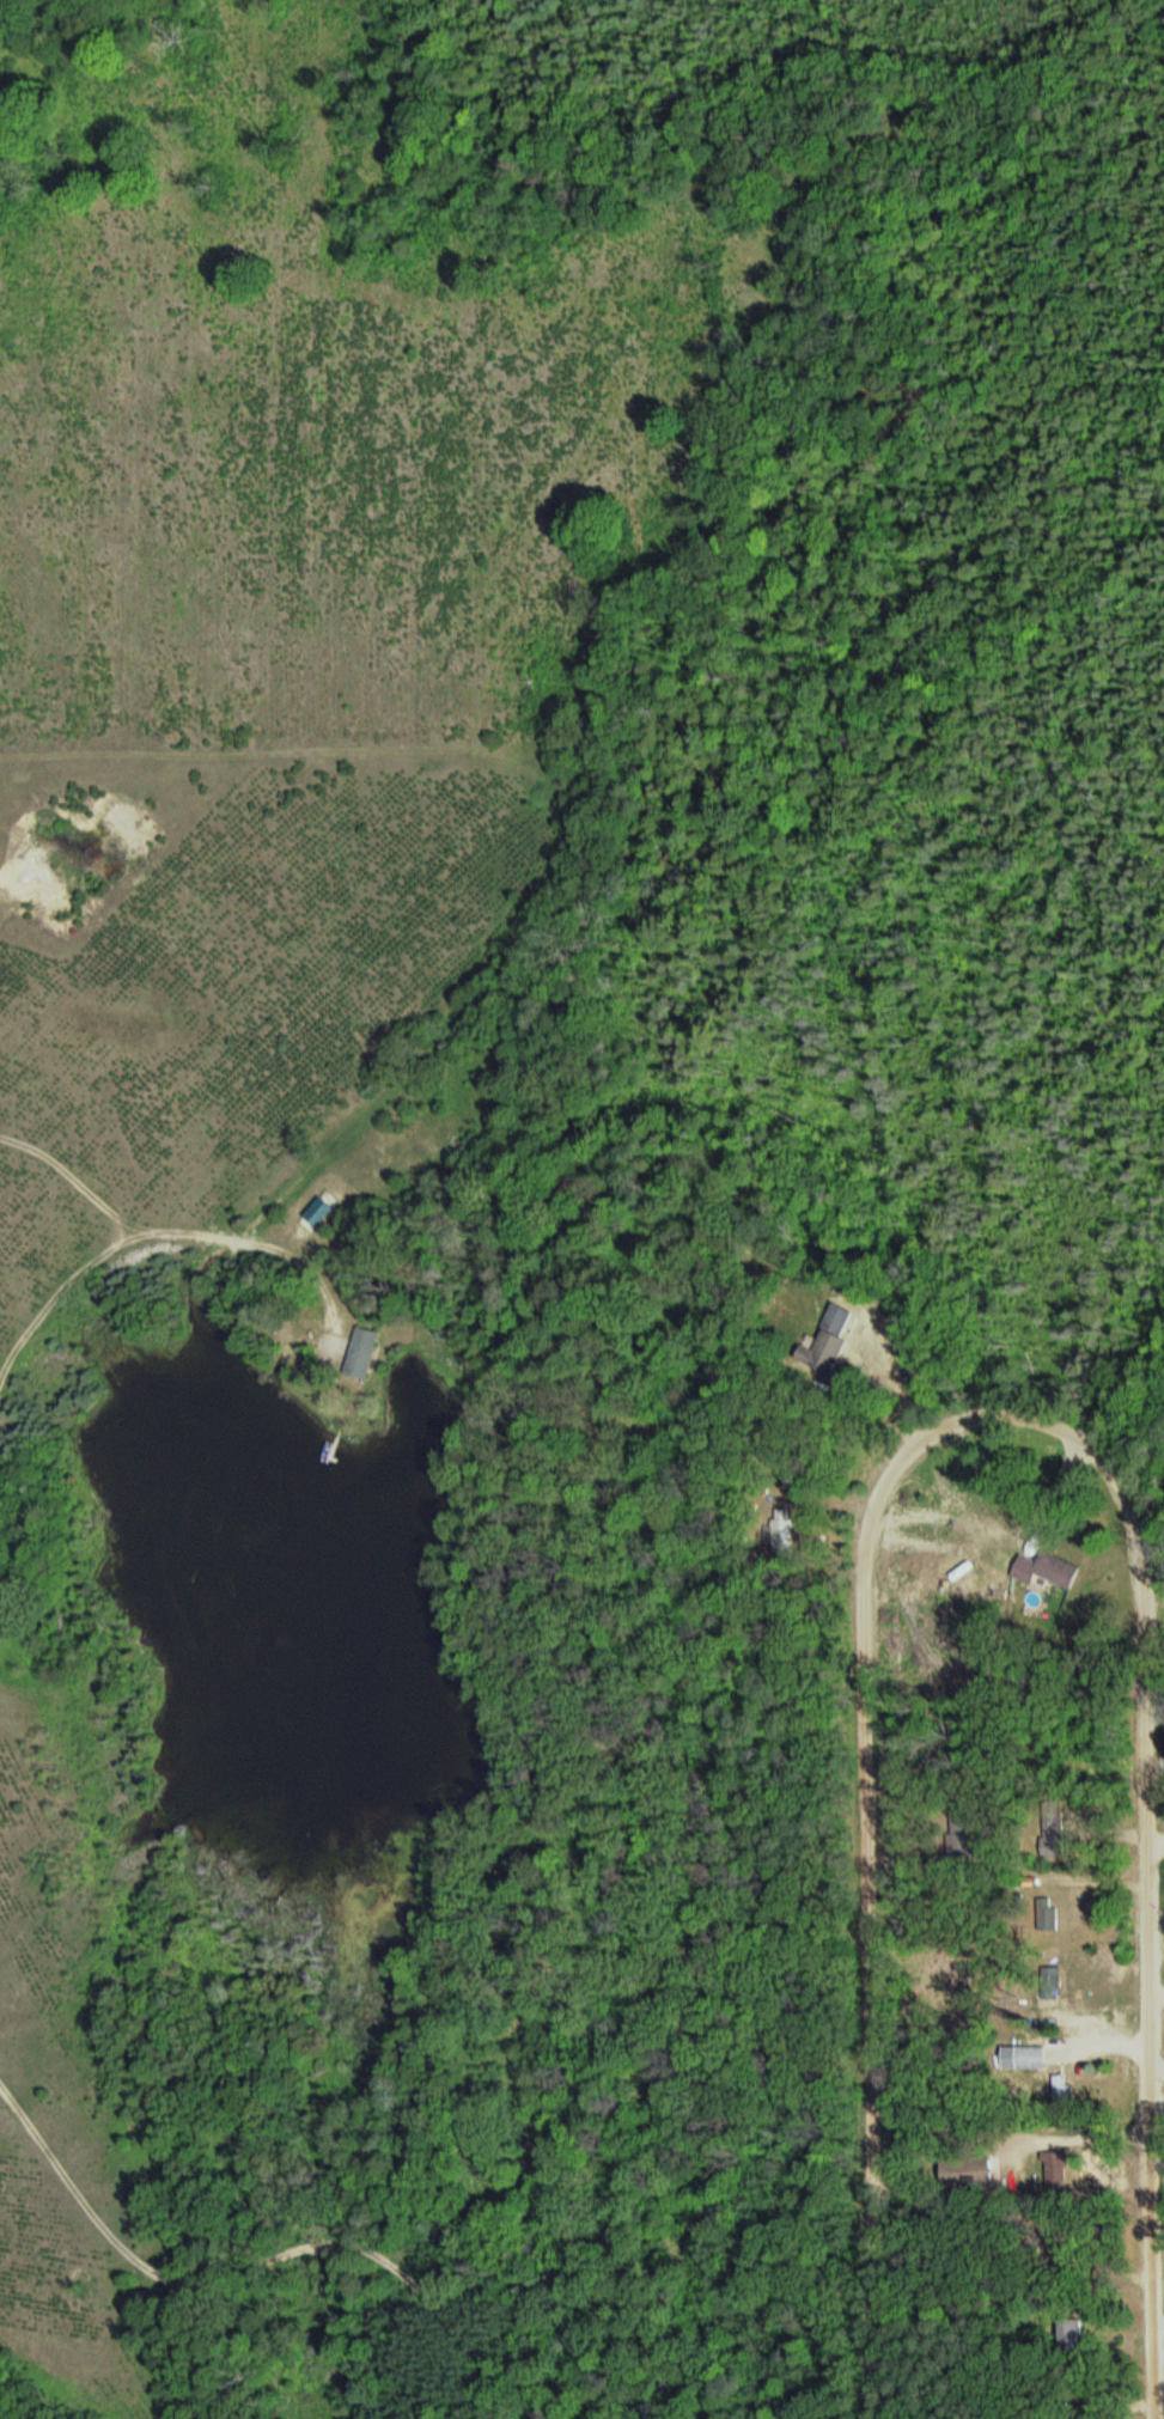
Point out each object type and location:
building: (827, 1351)
building: (364, 1352)
building: (1049, 1568)
building: (964, 1833)
road: (1157, 1848)
road: (871, 1888)
building: (1050, 1913)
building: (1065, 2089)
building: (969, 2171)
building: (1073, 2332)

